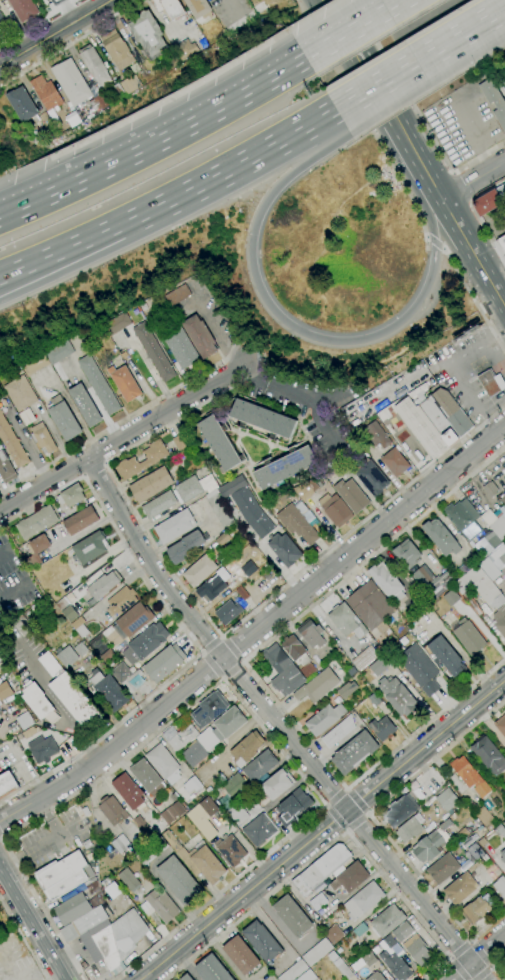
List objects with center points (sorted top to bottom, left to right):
parking lot: (457, 1)
building: (58, 2)
road: (53, 6)
building: (197, 7)
building: (169, 8)
building: (23, 9)
parking lot: (230, 10)
road: (39, 23)
building: (3, 26)
road: (356, 30)
road: (55, 32)
building: (147, 33)
road: (460, 36)
road: (70, 42)
building: (117, 49)
building: (185, 49)
road: (360, 60)
building: (95, 67)
building: (131, 80)
building: (71, 83)
road: (398, 83)
road: (375, 86)
building: (115, 91)
building: (45, 93)
building: (494, 101)
building: (98, 103)
road: (387, 103)
building: (22, 105)
road: (364, 118)
building: (71, 119)
road: (474, 138)
road: (156, 144)
road: (476, 159)
road: (453, 172)
road: (474, 179)
road: (460, 187)
road: (486, 192)
road: (170, 198)
road: (469, 201)
building: (488, 203)
road: (451, 210)
road: (488, 233)
traffic signals: (253, 236)
road: (435, 242)
building: (502, 242)
building: (176, 295)
road: (474, 298)
building: (116, 324)
road: (214, 332)
road: (494, 334)
building: (199, 336)
road: (330, 338)
building: (181, 348)
building: (153, 352)
road: (466, 352)
building: (58, 353)
road: (494, 357)
building: (34, 364)
building: (491, 382)
building: (124, 383)
building: (98, 384)
road: (293, 390)
building: (19, 394)
building: (45, 394)
road: (473, 398)
building: (84, 405)
building: (446, 416)
building: (26, 417)
building: (63, 418)
building: (262, 419)
building: (422, 428)
building: (376, 435)
road: (124, 437)
building: (42, 438)
building: (179, 442)
building: (11, 443)
building: (219, 444)
building: (179, 455)
building: (152, 460)
building: (394, 462)
road: (104, 463)
building: (284, 467)
building: (5, 468)
road: (94, 468)
road: (84, 475)
building: (370, 476)
building: (151, 485)
building: (502, 485)
building: (193, 488)
road: (120, 489)
building: (490, 489)
building: (303, 491)
building: (351, 495)
building: (71, 496)
building: (159, 505)
building: (246, 505)
building: (219, 508)
building: (335, 509)
building: (499, 511)
building: (65, 513)
building: (489, 517)
building: (464, 518)
building: (80, 521)
building: (36, 522)
building: (297, 524)
building: (174, 526)
building: (499, 527)
building: (441, 537)
building: (222, 539)
building: (487, 544)
building: (91, 547)
building: (186, 547)
road: (262, 549)
building: (284, 549)
building: (37, 550)
road: (373, 553)
building: (407, 553)
road: (3, 554)
building: (498, 557)
building: (248, 569)
building: (199, 571)
building: (409, 580)
building: (387, 581)
building: (431, 581)
building: (103, 585)
building: (213, 586)
building: (242, 593)
building: (483, 595)
building: (121, 601)
building: (419, 603)
building: (37, 605)
building: (370, 607)
building: (66, 609)
building: (228, 612)
building: (133, 621)
building: (348, 623)
building: (79, 626)
road: (184, 629)
road: (257, 631)
building: (311, 634)
road: (221, 637)
building: (469, 637)
building: (0, 639)
building: (145, 643)
road: (211, 643)
building: (81, 649)
road: (230, 649)
building: (338, 651)
road: (204, 652)
building: (106, 655)
building: (298, 655)
building: (1, 656)
building: (66, 656)
building: (447, 656)
building: (365, 658)
building: (0, 661)
road: (241, 661)
building: (164, 663)
road: (214, 663)
building: (378, 667)
building: (419, 669)
road: (232, 670)
building: (282, 671)
building: (351, 672)
building: (121, 673)
road: (222, 677)
road: (223, 680)
building: (132, 682)
building: (373, 683)
building: (317, 686)
building: (4, 690)
building: (347, 690)
building: (108, 691)
building: (71, 695)
building: (397, 696)
building: (374, 700)
road: (55, 702)
building: (38, 703)
building: (209, 709)
building: (325, 718)
building: (24, 721)
building: (229, 723)
road: (278, 725)
building: (501, 725)
building: (382, 729)
building: (29, 732)
building: (338, 732)
building: (180, 733)
building: (42, 748)
building: (247, 749)
building: (354, 752)
road: (5, 754)
building: (194, 754)
building: (488, 755)
building: (163, 764)
building: (259, 766)
road: (362, 775)
building: (470, 776)
building: (146, 778)
building: (7, 784)
building: (233, 784)
building: (192, 785)
building: (274, 787)
road: (345, 789)
building: (209, 790)
building: (128, 792)
road: (336, 798)
building: (446, 799)
road: (354, 802)
road: (327, 804)
building: (209, 806)
building: (293, 806)
building: (112, 810)
building: (82, 811)
building: (400, 811)
building: (484, 813)
building: (169, 814)
building: (237, 814)
road: (366, 814)
road: (337, 816)
road: (355, 821)
building: (504, 824)
road: (377, 825)
building: (144, 827)
building: (490, 827)
road: (321, 828)
road: (346, 829)
building: (410, 829)
building: (259, 830)
building: (499, 831)
building: (463, 834)
road: (1, 837)
road: (332, 841)
building: (482, 842)
building: (121, 843)
building: (432, 843)
building: (87, 844)
building: (110, 848)
building: (230, 850)
building: (153, 851)
building: (126, 852)
building: (474, 853)
building: (502, 856)
building: (198, 859)
building: (443, 868)
building: (321, 869)
building: (63, 875)
building: (350, 878)
building: (127, 880)
building: (179, 881)
building: (500, 886)
building: (462, 887)
building: (363, 900)
building: (318, 902)
building: (159, 906)
building: (72, 908)
building: (475, 910)
building: (292, 916)
building: (90, 920)
building: (386, 920)
road: (33, 925)
building: (361, 929)
building: (403, 931)
building: (334, 934)
building: (114, 939)
road: (23, 941)
building: (263, 941)
road: (470, 942)
building: (375, 950)
building: (417, 950)
road: (460, 950)
building: (317, 952)
road: (478, 954)
building: (241, 955)
road: (477, 957)
road: (451, 958)
building: (368, 959)
building: (394, 959)
road: (492, 965)
building: (504, 966)
road: (461, 968)
road: (490, 968)
building: (212, 969)
building: (343, 969)
building: (294, 971)
road: (479, 972)
building: (307, 976)
building: (376, 976)
building: (186, 977)

